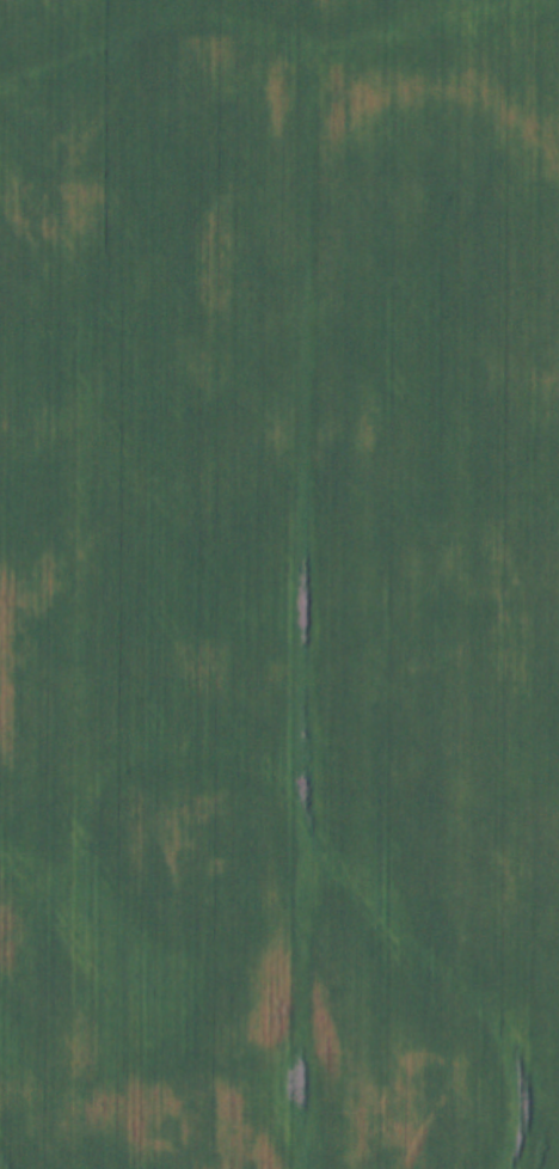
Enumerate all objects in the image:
crop: (279, 584)

